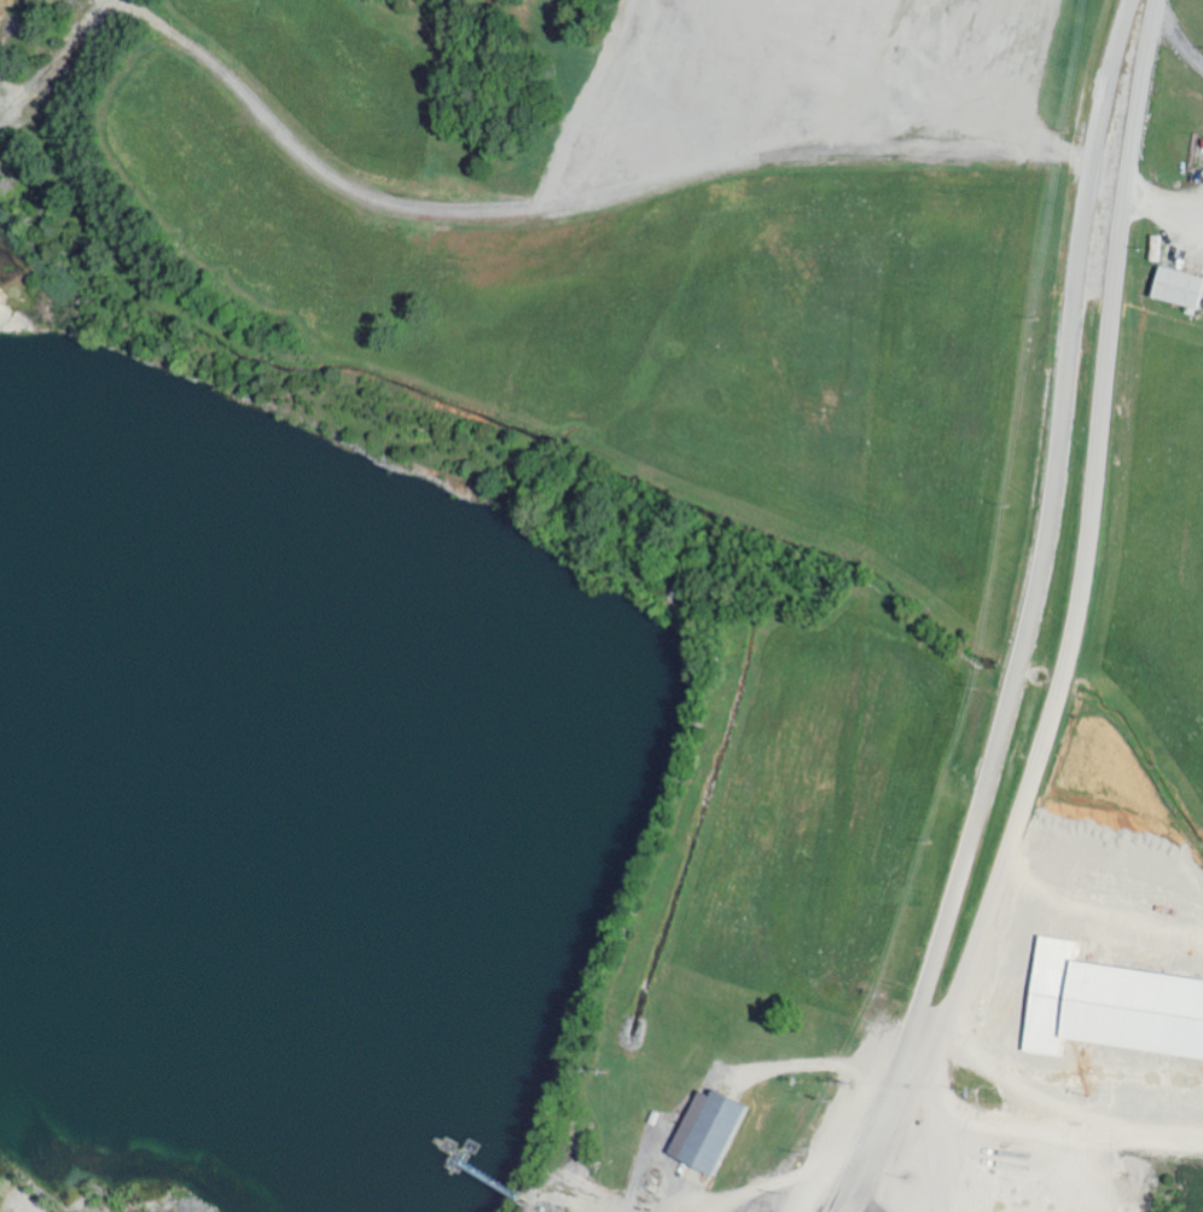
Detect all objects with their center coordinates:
road: (1174, 42)
road: (1123, 126)
building: (1175, 289)
road: (1023, 651)
road: (1070, 661)
building: (702, 1131)
road: (1038, 1136)

